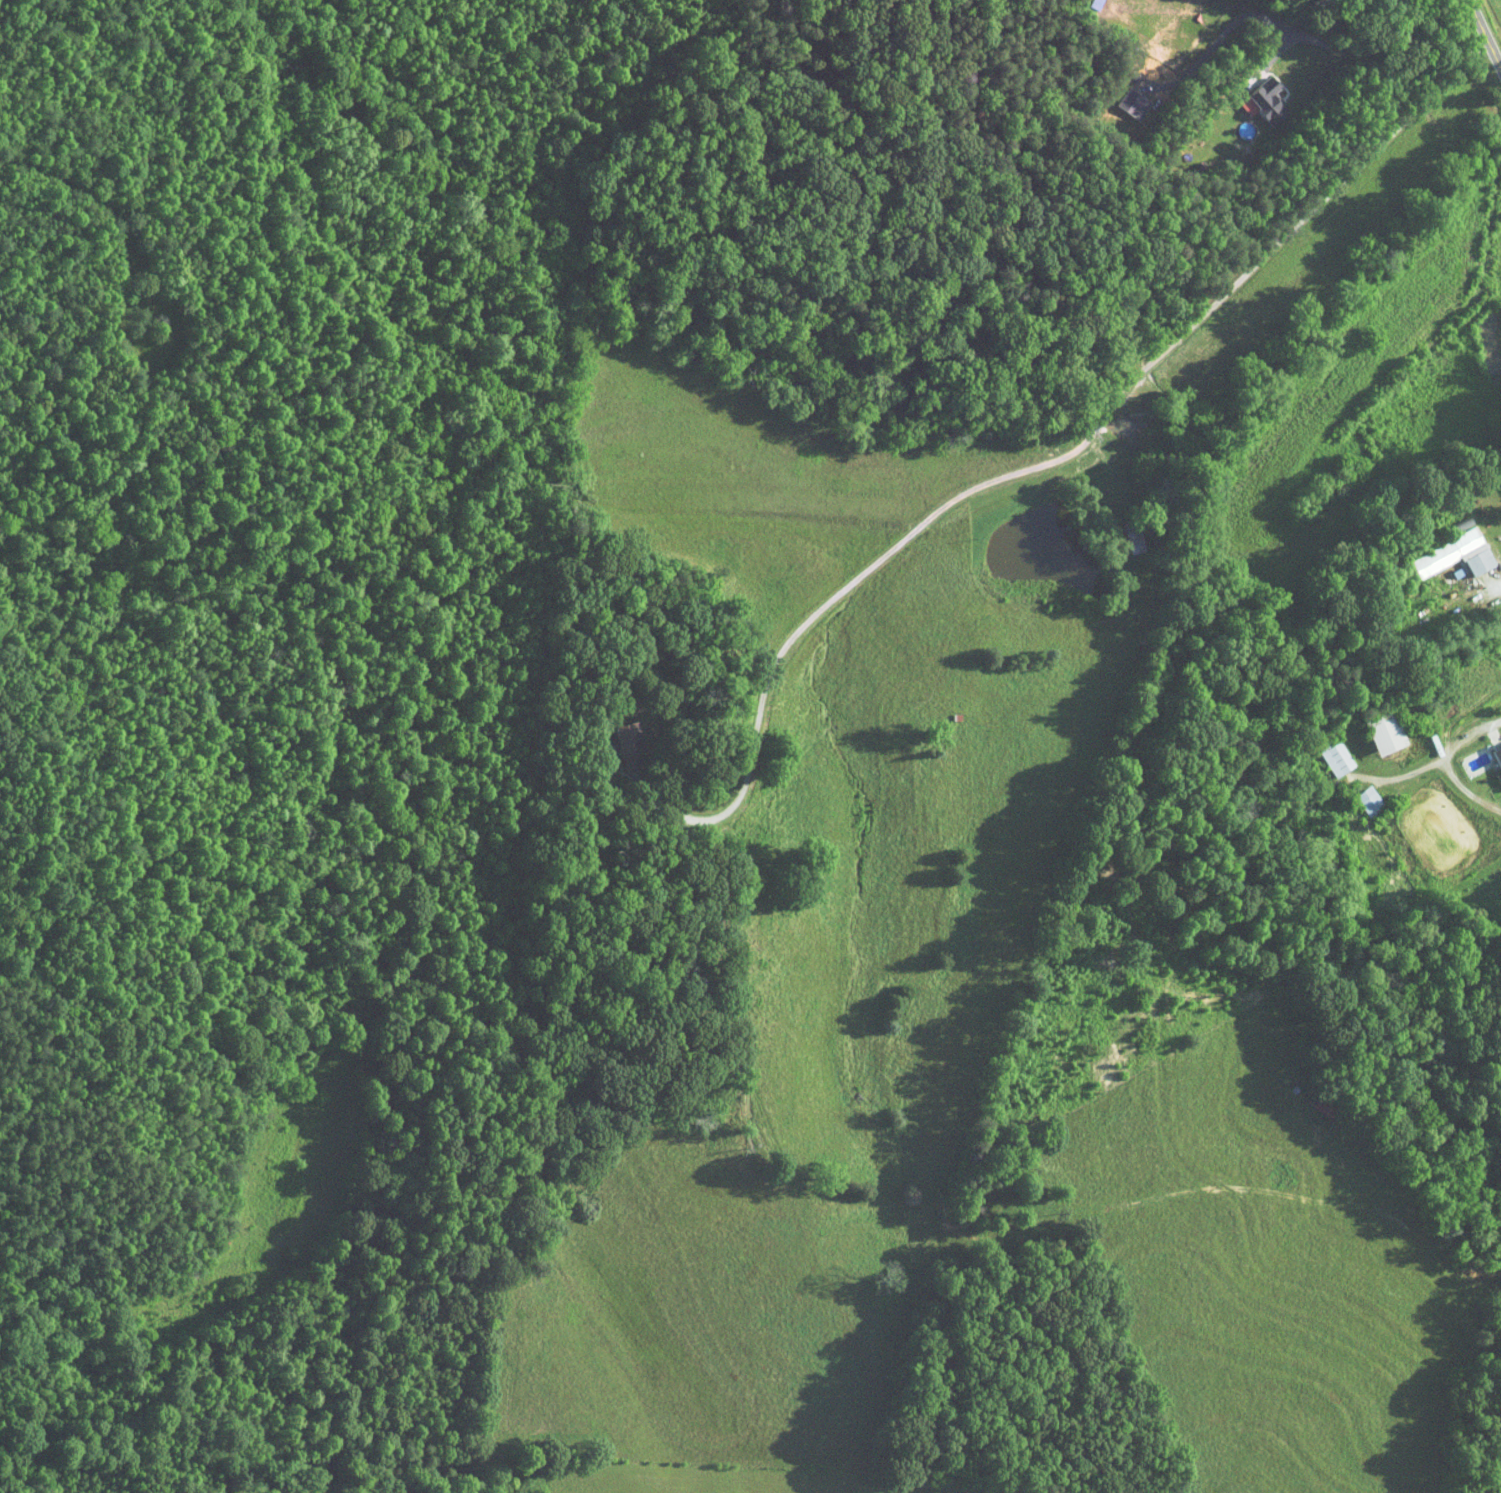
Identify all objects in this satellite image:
road: (1281, 22)
road: (1486, 30)
building: (1262, 102)
building: (1131, 103)
road: (1045, 464)
building: (1453, 554)
building: (1383, 732)
building: (625, 738)
building: (1333, 755)
building: (1496, 755)
road: (1445, 762)
road: (1398, 777)
building: (1367, 801)

